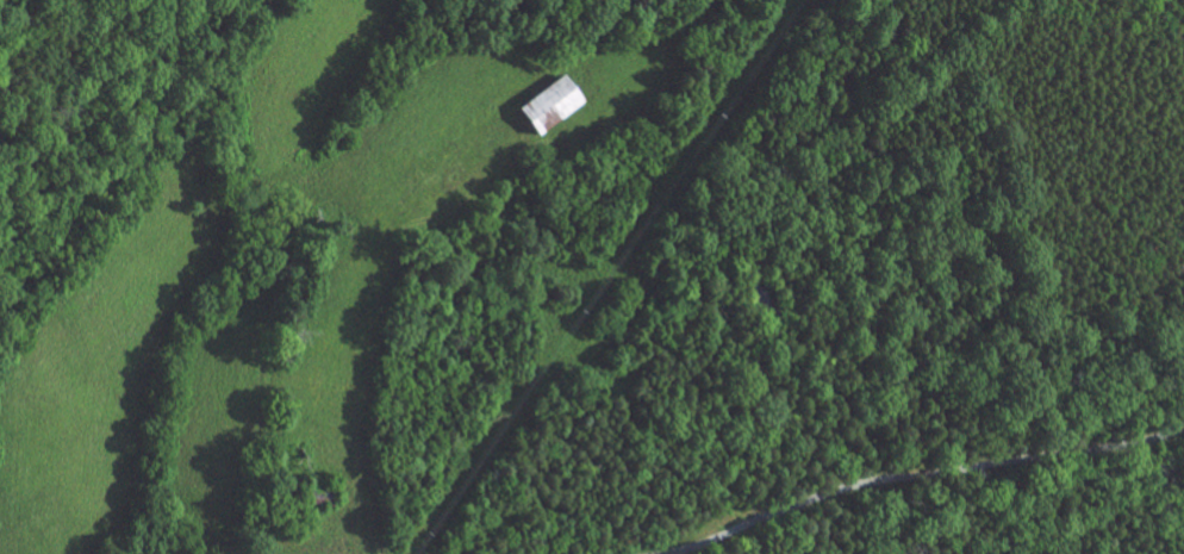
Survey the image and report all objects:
road: (920, 474)

